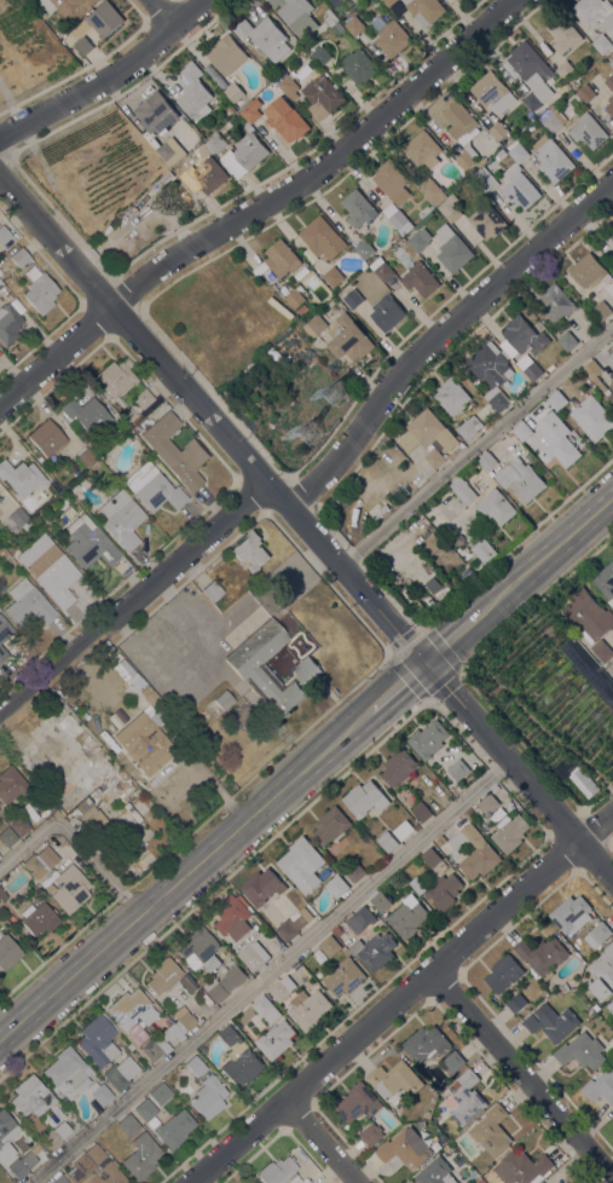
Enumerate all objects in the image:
building: (33, 0)
building: (458, 0)
building: (339, 1)
building: (355, 1)
building: (376, 2)
building: (388, 2)
building: (64, 5)
building: (424, 10)
road: (162, 13)
building: (595, 13)
building: (296, 16)
building: (105, 19)
building: (332, 22)
building: (354, 27)
building: (389, 35)
building: (562, 35)
building: (265, 37)
building: (602, 45)
building: (83, 46)
building: (226, 56)
building: (320, 56)
building: (611, 63)
building: (358, 67)
building: (566, 71)
building: (531, 74)
road: (109, 77)
building: (609, 82)
building: (288, 86)
road: (45, 88)
building: (193, 92)
building: (233, 92)
building: (491, 92)
building: (585, 94)
building: (322, 97)
road: (10, 105)
building: (609, 105)
building: (250, 110)
building: (156, 114)
building: (287, 120)
building: (551, 123)
building: (588, 131)
building: (462, 132)
building: (499, 132)
building: (215, 144)
road: (22, 146)
building: (423, 150)
building: (516, 151)
building: (167, 152)
building: (244, 156)
building: (551, 158)
road: (46, 172)
building: (470, 172)
building: (204, 178)
building: (392, 181)
building: (485, 181)
building: (519, 187)
building: (433, 191)
road: (261, 207)
building: (358, 209)
building: (423, 212)
building: (451, 212)
building: (394, 217)
building: (486, 221)
building: (4, 235)
building: (611, 236)
building: (323, 238)
building: (420, 241)
road: (157, 243)
road: (87, 249)
building: (452, 249)
building: (364, 250)
building: (612, 252)
building: (19, 256)
building: (282, 259)
building: (382, 270)
building: (589, 271)
building: (1, 273)
road: (183, 275)
building: (334, 277)
building: (420, 279)
building: (1, 284)
building: (39, 290)
building: (295, 299)
building: (353, 299)
building: (556, 302)
building: (301, 310)
building: (601, 311)
building: (387, 313)
building: (596, 322)
building: (8, 323)
building: (314, 325)
road: (439, 333)
building: (521, 337)
building: (348, 339)
building: (567, 341)
building: (530, 368)
building: (491, 371)
building: (594, 374)
building: (116, 377)
building: (611, 386)
road: (212, 393)
power tower: (341, 393)
building: (451, 397)
building: (609, 397)
building: (141, 399)
building: (557, 400)
building: (87, 415)
building: (592, 419)
road: (210, 421)
building: (469, 428)
power tower: (308, 431)
building: (47, 437)
building: (429, 437)
building: (550, 439)
road: (475, 444)
building: (173, 449)
building: (456, 451)
building: (85, 457)
building: (487, 462)
building: (22, 477)
building: (519, 479)
building: (74, 486)
building: (158, 491)
building: (462, 491)
building: (0, 497)
building: (496, 507)
building: (17, 517)
building: (121, 519)
building: (89, 542)
road: (516, 542)
building: (250, 550)
building: (482, 550)
road: (545, 554)
road: (364, 567)
building: (54, 573)
building: (606, 581)
building: (432, 585)
building: (212, 590)
road: (133, 601)
building: (28, 604)
road: (536, 604)
building: (589, 616)
building: (5, 629)
road: (421, 629)
road: (451, 639)
building: (601, 651)
building: (2, 653)
traffic signals: (423, 663)
building: (248, 666)
road: (393, 687)
building: (222, 699)
building: (157, 706)
road: (536, 722)
building: (70, 725)
building: (428, 740)
building: (144, 745)
building: (31, 767)
building: (398, 768)
building: (458, 771)
road: (517, 771)
building: (584, 783)
building: (12, 785)
building: (100, 785)
building: (455, 790)
building: (365, 798)
road: (597, 800)
building: (488, 804)
building: (421, 812)
building: (19, 826)
building: (330, 826)
building: (403, 831)
building: (510, 832)
building: (7, 837)
road: (74, 838)
road: (611, 841)
building: (387, 842)
building: (438, 842)
building: (0, 843)
building: (475, 852)
building: (430, 858)
building: (40, 860)
building: (77, 860)
building: (302, 865)
building: (353, 872)
road: (181, 876)
building: (417, 885)
building: (73, 887)
building: (336, 887)
building: (262, 888)
building: (46, 889)
building: (444, 891)
building: (2, 899)
building: (380, 902)
building: (571, 914)
building: (407, 917)
building: (39, 918)
building: (232, 919)
building: (360, 919)
building: (293, 924)
building: (337, 931)
building: (597, 935)
building: (330, 947)
building: (199, 950)
building: (7, 951)
building: (374, 951)
building: (542, 954)
building: (250, 958)
road: (268, 971)
building: (504, 974)
building: (603, 974)
building: (163, 975)
building: (345, 977)
building: (225, 983)
building: (563, 987)
building: (282, 988)
building: (543, 994)
road: (401, 997)
building: (516, 1003)
building: (611, 1006)
building: (308, 1009)
building: (266, 1010)
building: (591, 1011)
building: (184, 1020)
building: (551, 1022)
building: (127, 1025)
building: (98, 1039)
building: (276, 1040)
building: (426, 1044)
building: (582, 1052)
building: (239, 1060)
building: (453, 1062)
building: (195, 1066)
building: (68, 1073)
building: (120, 1073)
road: (521, 1075)
building: (395, 1083)
building: (600, 1087)
building: (160, 1093)
building: (102, 1095)
building: (209, 1096)
building: (29, 1098)
building: (464, 1098)
building: (358, 1103)
building: (166, 1123)
building: (128, 1125)
building: (7, 1129)
building: (492, 1131)
building: (54, 1135)
building: (371, 1135)
road: (317, 1143)
building: (405, 1148)
building: (140, 1155)
building: (89, 1159)
building: (23, 1162)
building: (522, 1167)
building: (279, 1172)
building: (434, 1172)
building: (108, 1175)
building: (60, 1178)

